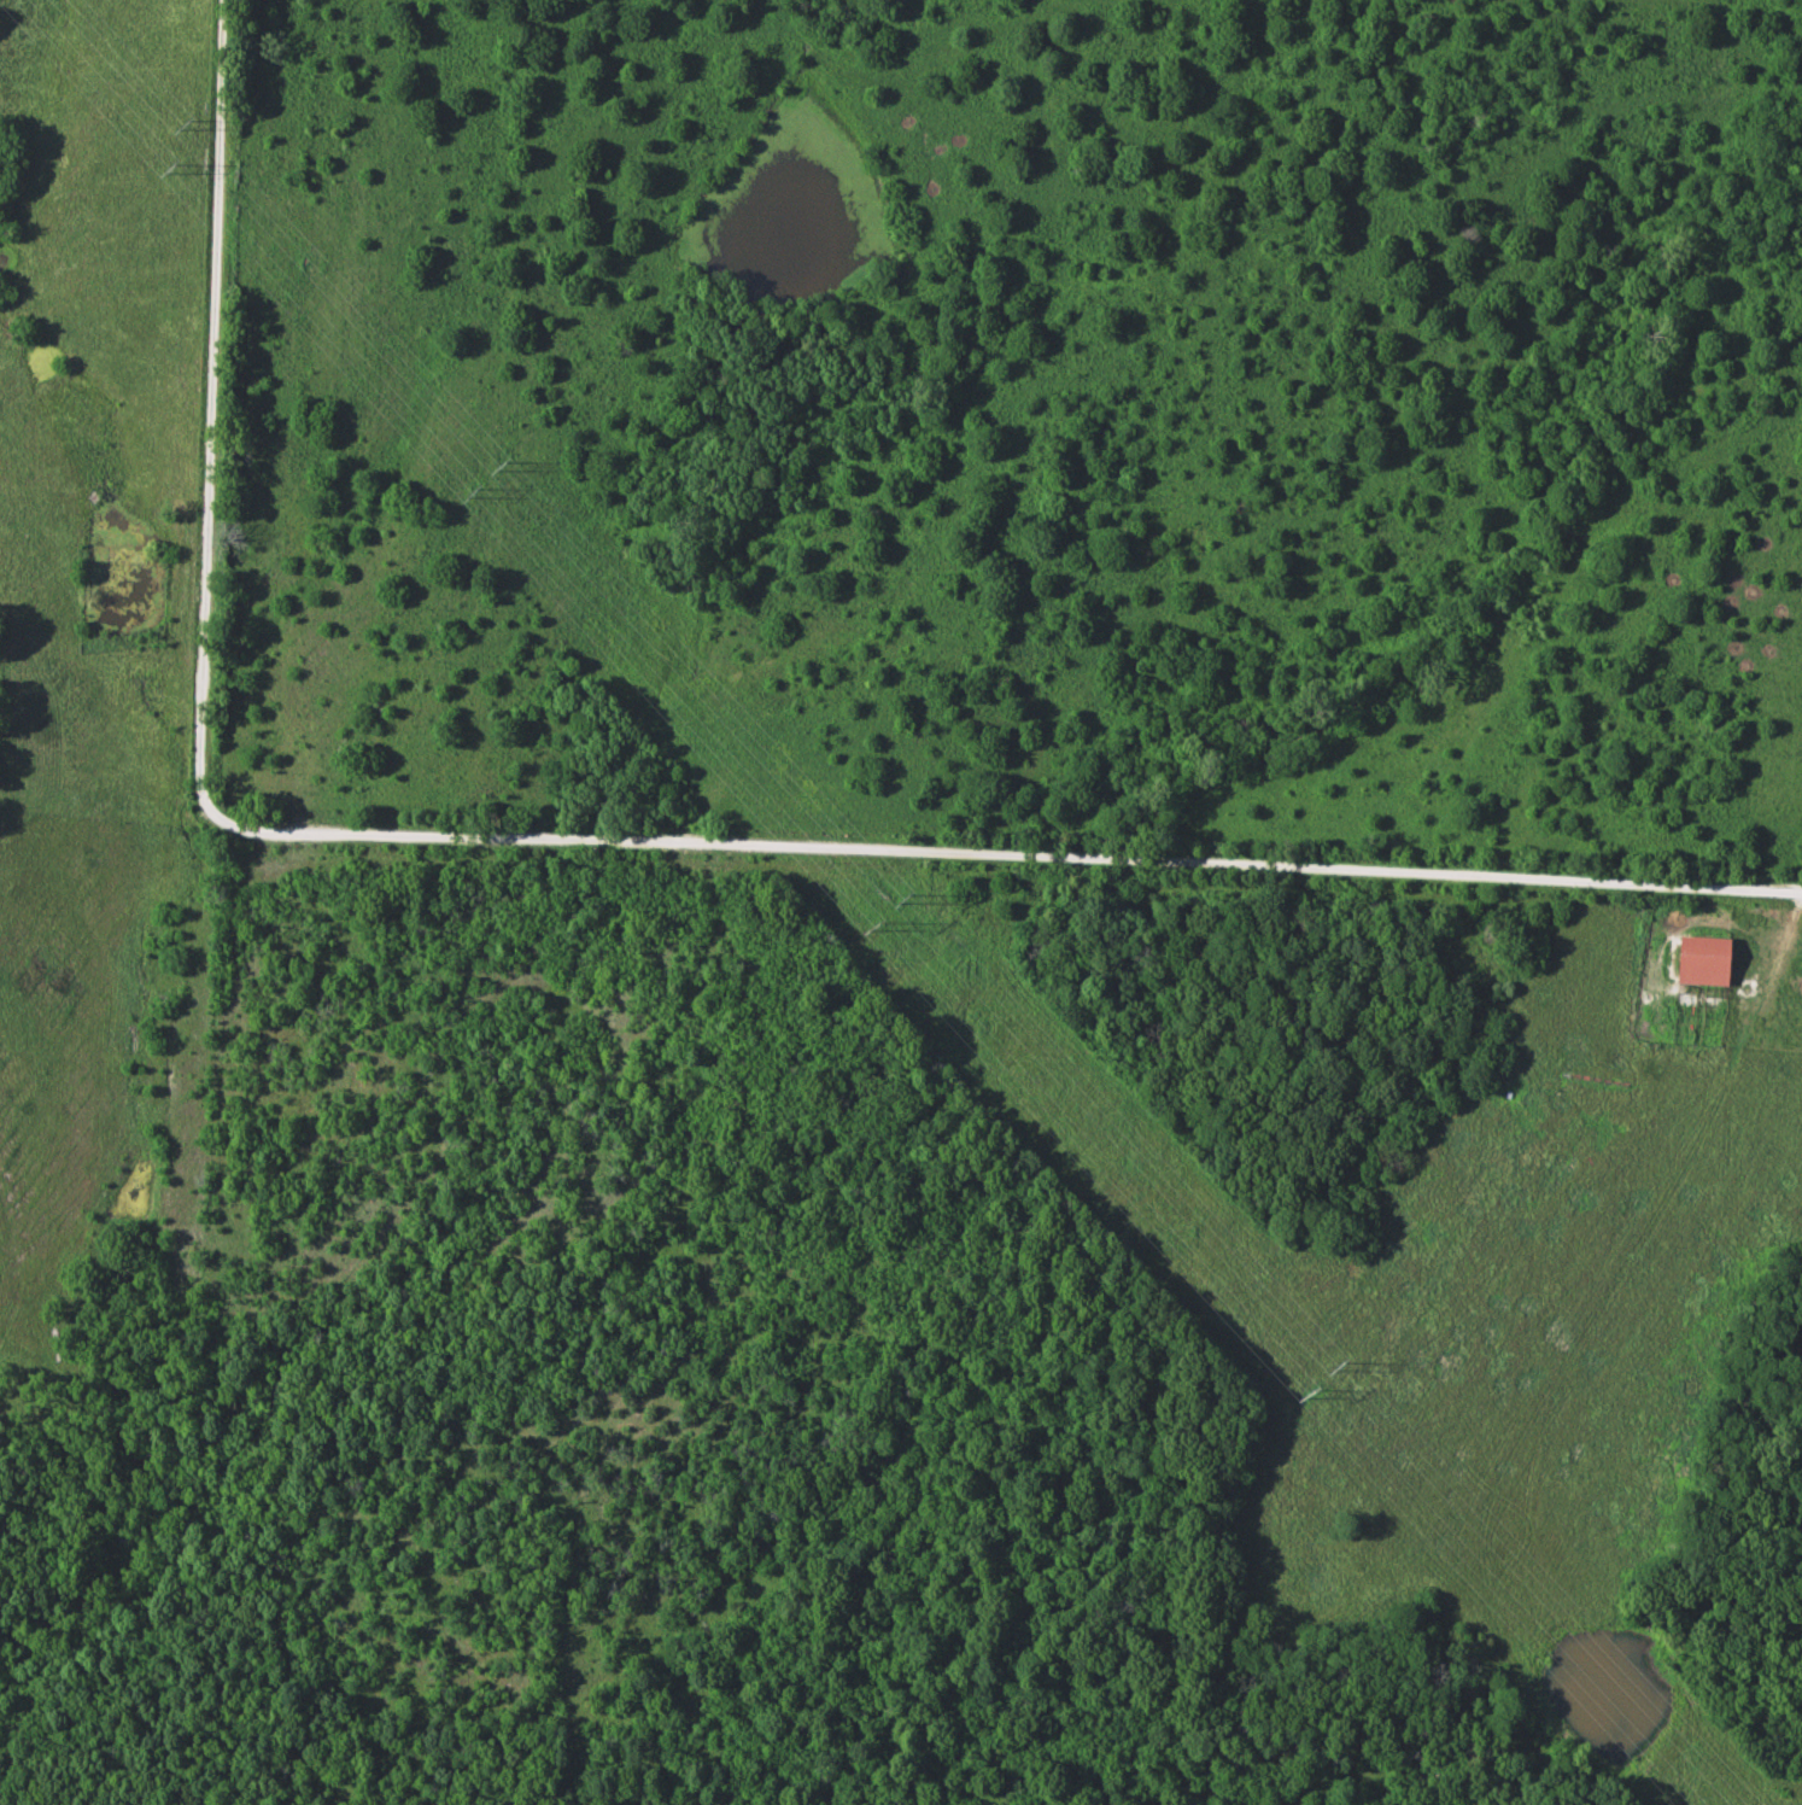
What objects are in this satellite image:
power tower: (185, 125)
power tower: (172, 169)
road: (207, 410)
power tower: (501, 467)
power tower: (475, 495)
road: (1004, 860)
power tower: (902, 900)
power tower: (874, 927)
building: (1709, 962)
power tower: (1335, 1366)
power tower: (1309, 1395)

